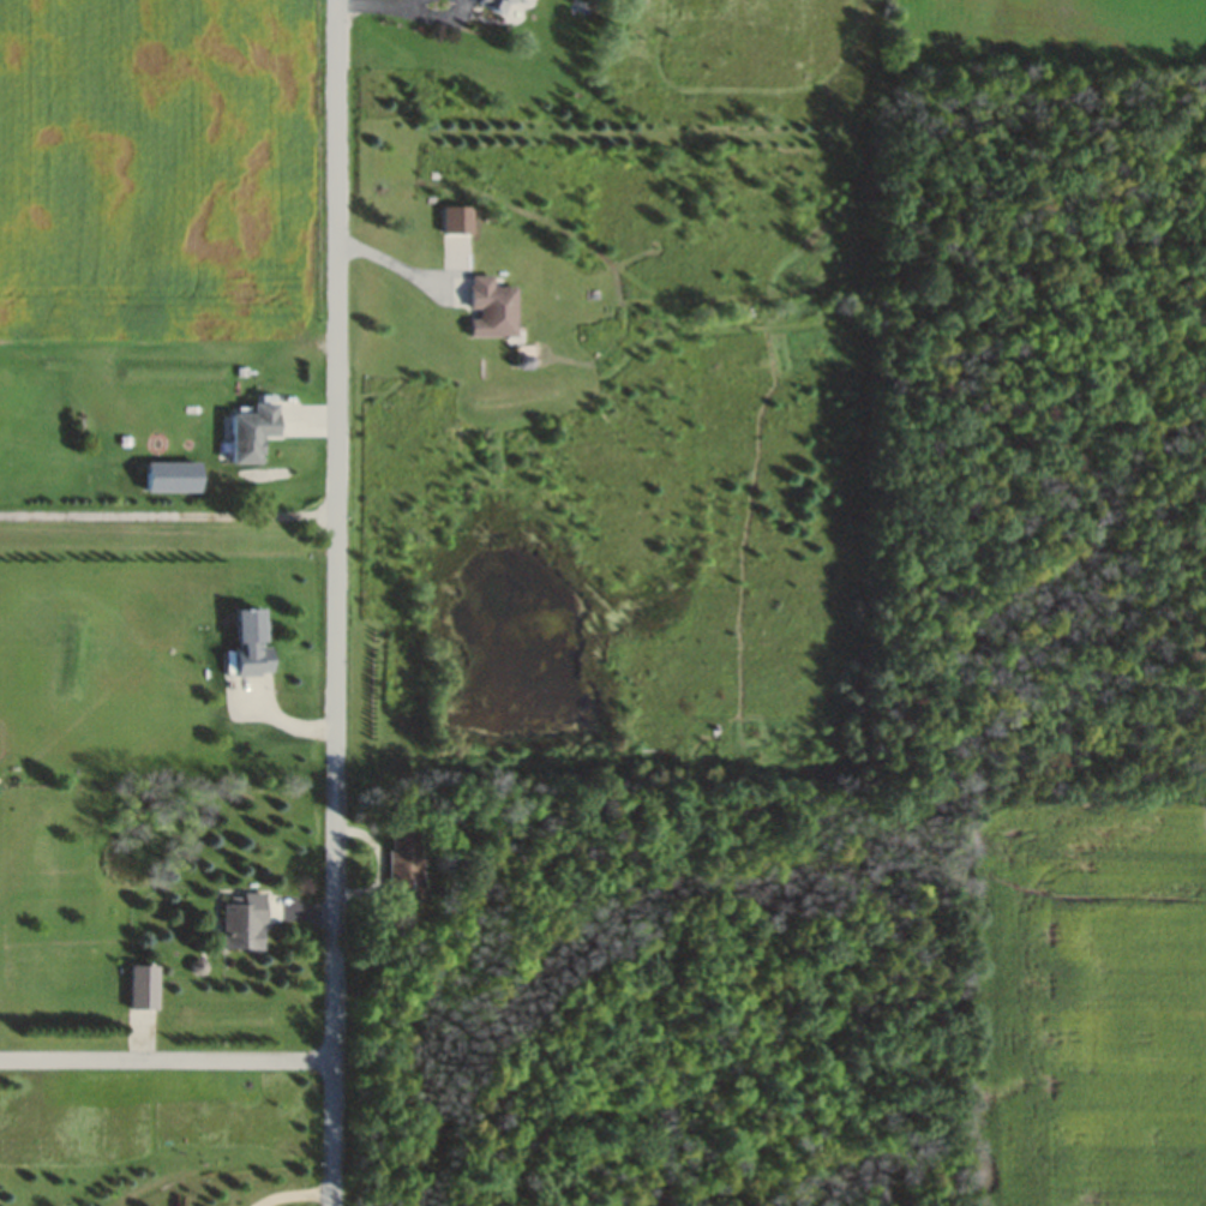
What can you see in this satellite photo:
building: (496, 5)
crop: (1164, 7)
building: (490, 307)
building: (252, 432)
road: (168, 510)
road: (337, 602)
building: (251, 624)
building: (404, 862)
building: (244, 920)
road: (167, 1058)

